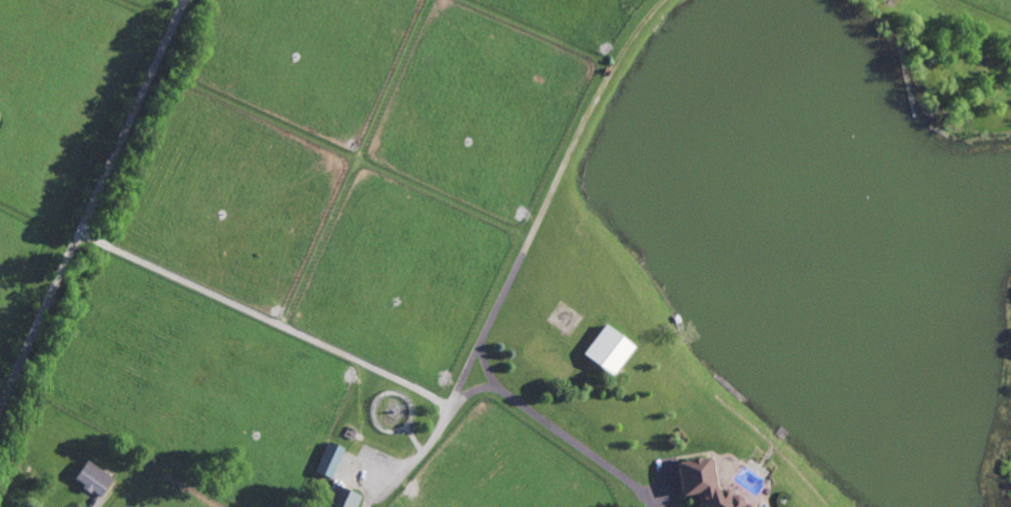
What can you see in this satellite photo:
road: (89, 193)
building: (607, 349)
road: (443, 415)
road: (556, 431)
building: (328, 458)
building: (92, 477)
building: (703, 484)
building: (338, 497)

